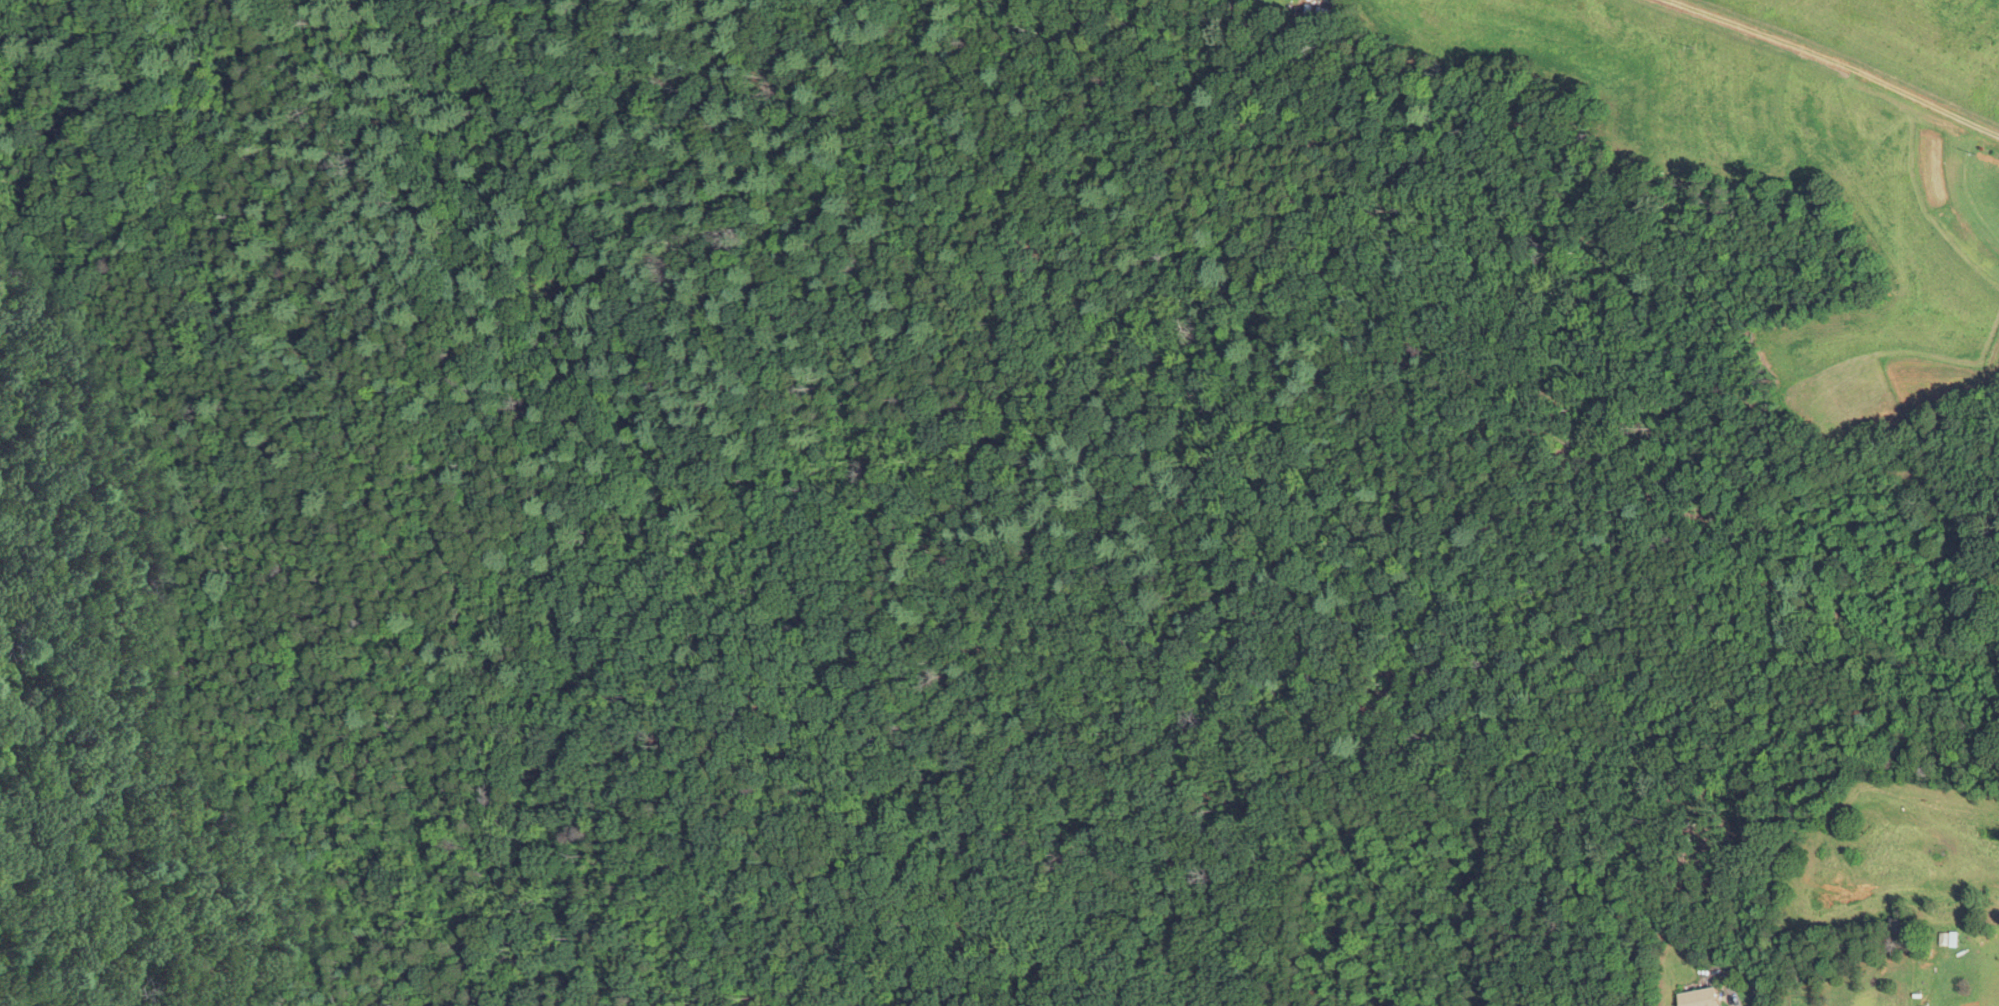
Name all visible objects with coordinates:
road: (1835, 62)
building: (1699, 998)
road: (1734, 1003)

